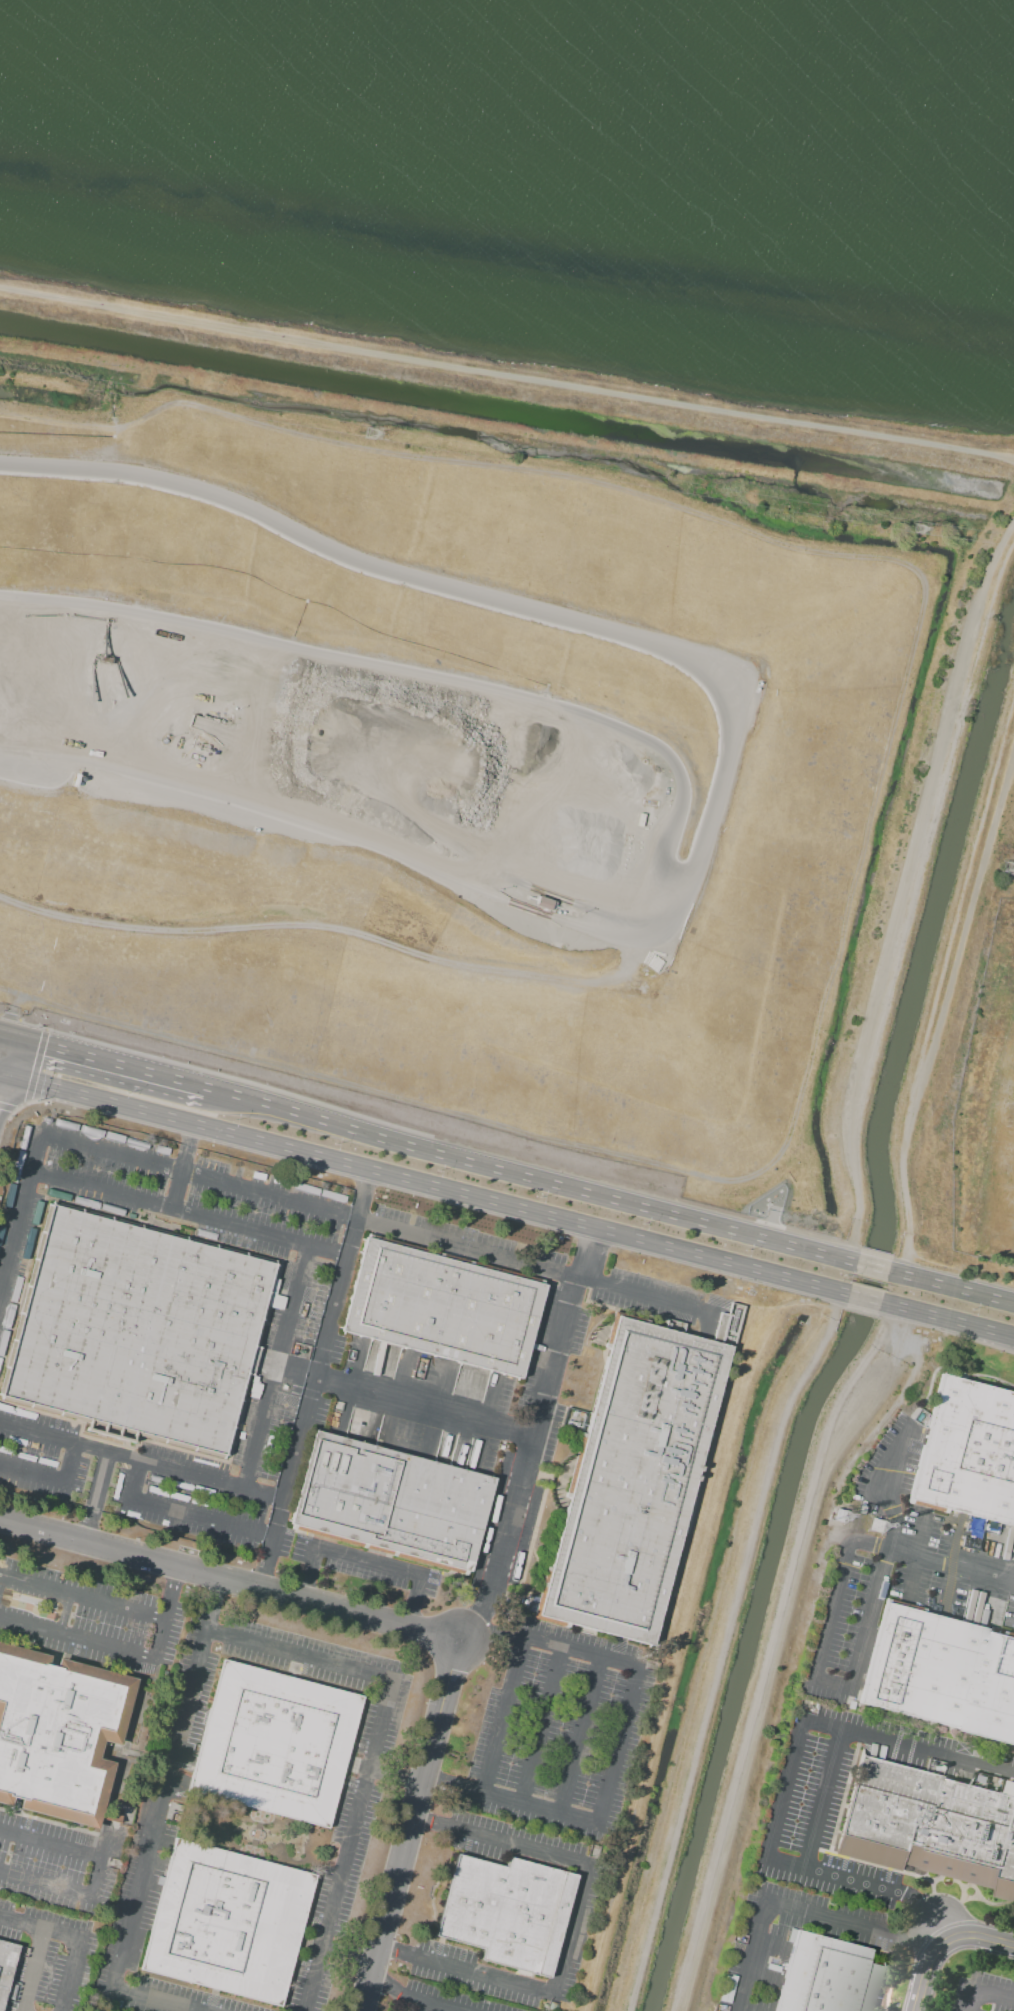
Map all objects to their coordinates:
road: (506, 377)
power tower: (371, 436)
power tower: (919, 533)
road: (565, 617)
landfill: (439, 774)
power tower: (1005, 870)
road: (961, 886)
road: (908, 888)
road: (351, 930)
road: (943, 1003)
road: (2, 1030)
traffic signals: (5, 1031)
road: (2, 1041)
traffic signals: (45, 1042)
road: (98, 1055)
road: (189, 1167)
road: (524, 1169)
road: (423, 1185)
road: (174, 1204)
road: (22, 1224)
road: (378, 1228)
road: (872, 1263)
road: (951, 1284)
road: (1, 1295)
road: (863, 1300)
building: (444, 1309)
road: (946, 1322)
building: (727, 1325)
building: (137, 1329)
road: (276, 1364)
road: (309, 1378)
road: (404, 1401)
road: (540, 1408)
building: (968, 1453)
road: (141, 1460)
road: (893, 1460)
building: (631, 1481)
road: (95, 1496)
road: (137, 1499)
building: (390, 1502)
road: (895, 1517)
power tower: (841, 1518)
power tower: (872, 1526)
road: (916, 1558)
road: (367, 1562)
road: (935, 1562)
road: (954, 1566)
road: (228, 1580)
road: (306, 1582)
road: (109, 1604)
road: (833, 1607)
road: (411, 1610)
road: (472, 1615)
parking lot: (87, 1619)
road: (870, 1619)
road: (492, 1633)
road: (78, 1638)
road: (162, 1639)
road: (710, 1645)
road: (721, 1648)
road: (581, 1653)
road: (301, 1658)
road: (136, 1672)
building: (941, 1672)
road: (834, 1684)
road: (544, 1727)
building: (58, 1733)
road: (582, 1737)
building: (274, 1744)
road: (792, 1751)
road: (483, 1794)
road: (822, 1797)
road: (53, 1821)
road: (429, 1821)
road: (158, 1825)
road: (408, 1825)
building: (930, 1825)
road: (105, 1841)
road: (50, 1845)
road: (348, 1847)
parking lot: (55, 1865)
road: (96, 1878)
road: (45, 1885)
road: (777, 1903)
road: (941, 1906)
building: (506, 1911)
building: (227, 1922)
road: (568, 1928)
road: (39, 1929)
road: (918, 1943)
road: (771, 1946)
road: (946, 1947)
road: (394, 1951)
parking lot: (47, 1957)
building: (5, 1965)
road: (34, 1971)
road: (70, 1975)
building: (826, 1976)
road: (384, 1983)
road: (995, 1995)
road: (973, 2000)
road: (425, 2003)
road: (418, 2006)
road: (739, 2010)

